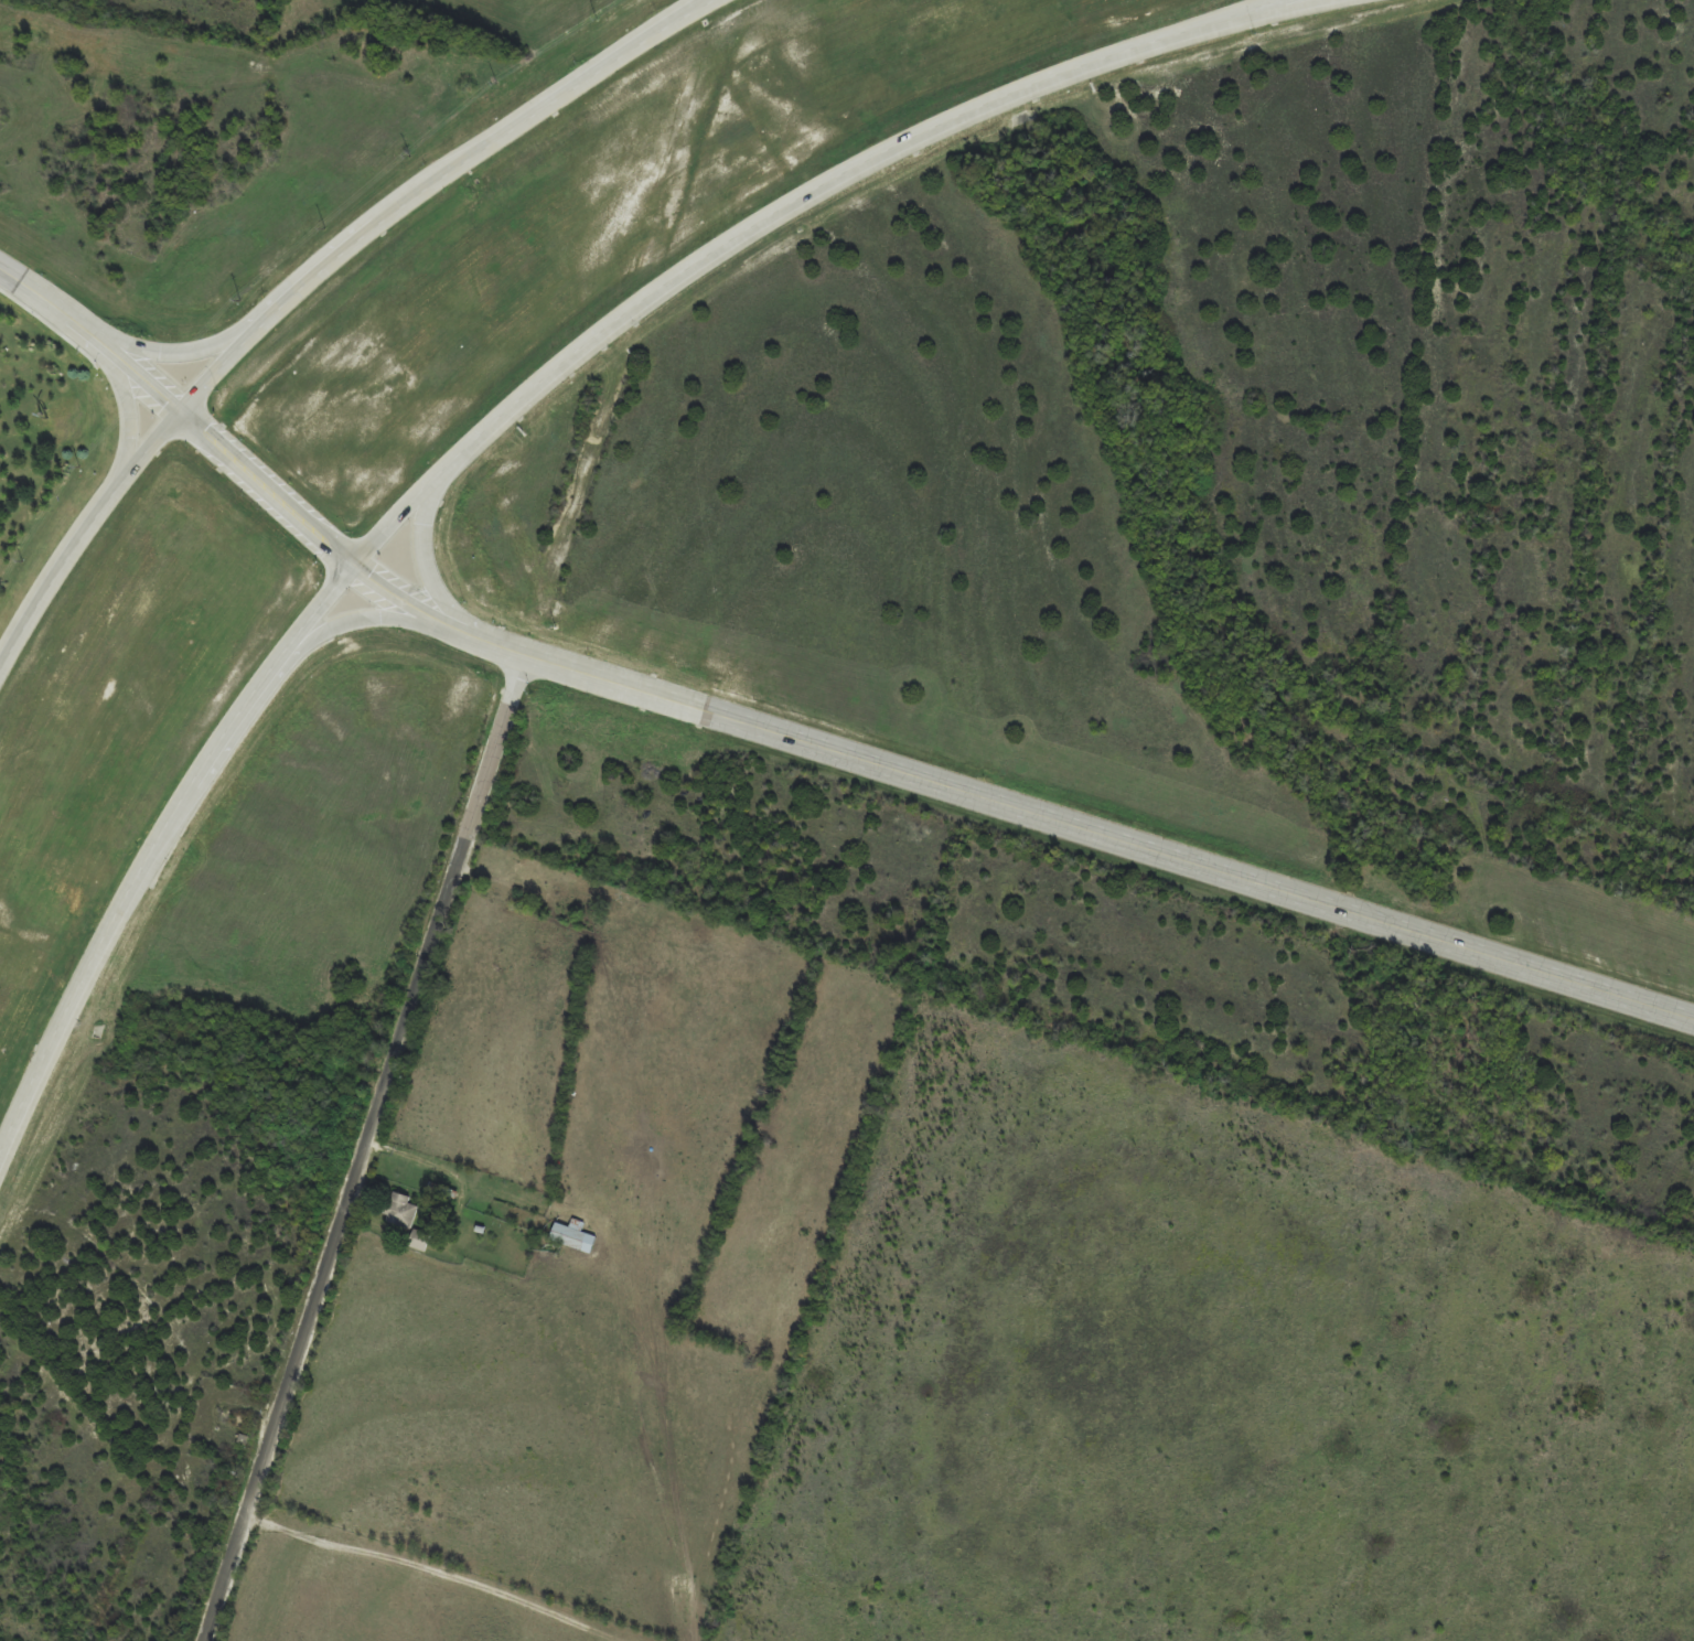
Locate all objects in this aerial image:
road: (1251, 6)
road: (1264, 6)
road: (425, 179)
road: (92, 340)
road: (184, 353)
road: (125, 409)
road: (480, 433)
road: (82, 529)
road: (422, 551)
road: (354, 621)
road: (904, 775)
road: (364, 1149)
building: (403, 1211)
building: (576, 1237)
building: (422, 1241)

